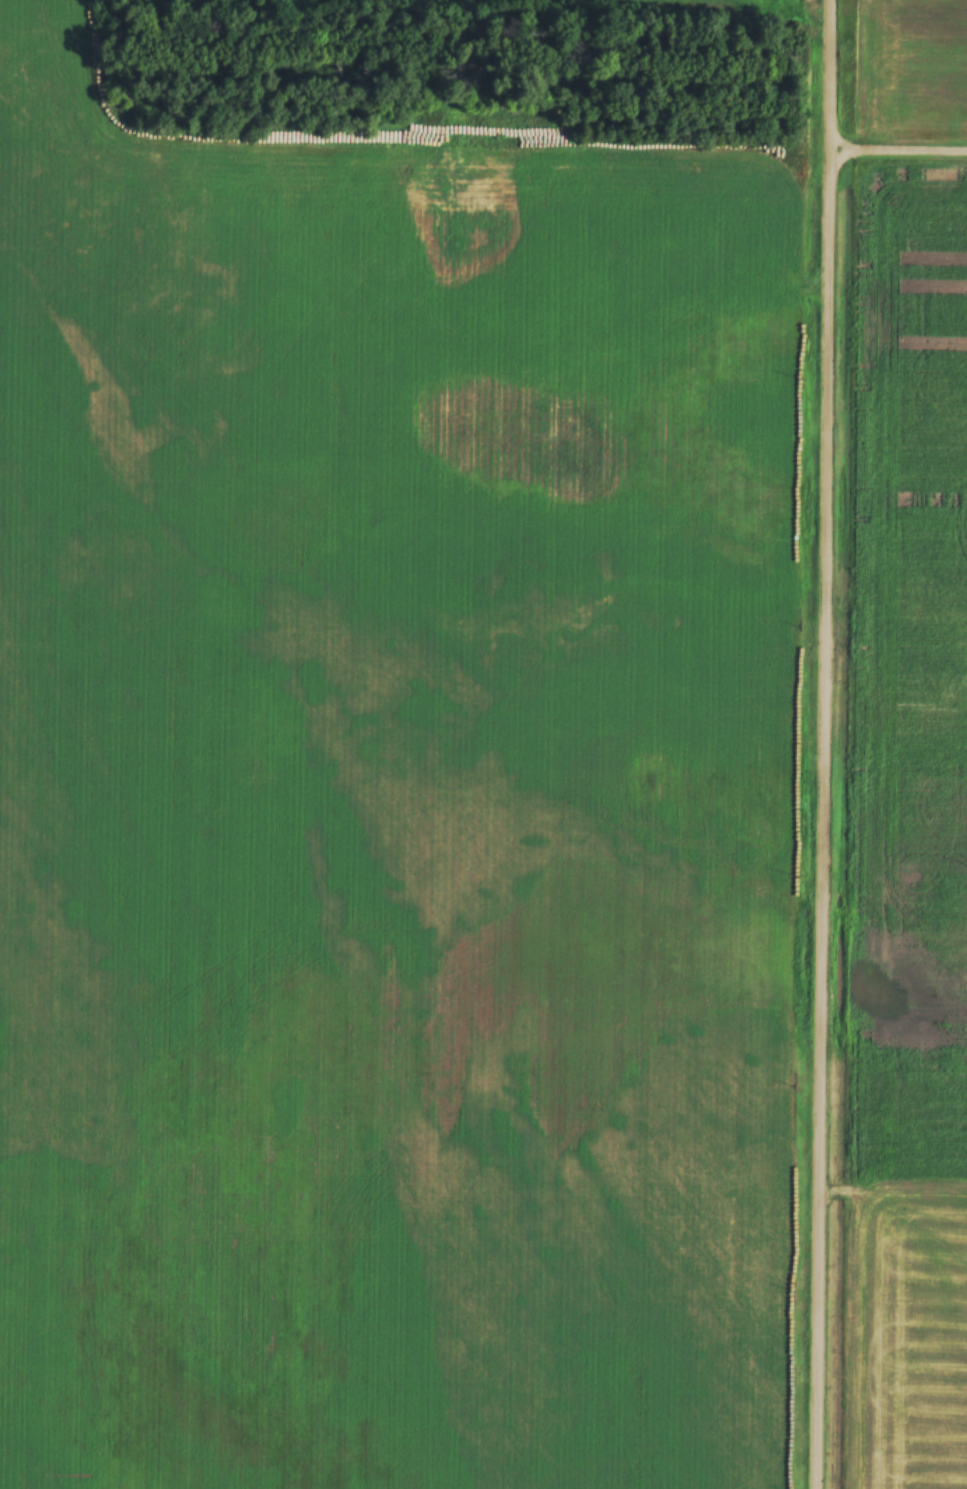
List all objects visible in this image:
road: (900, 150)
road: (827, 744)

